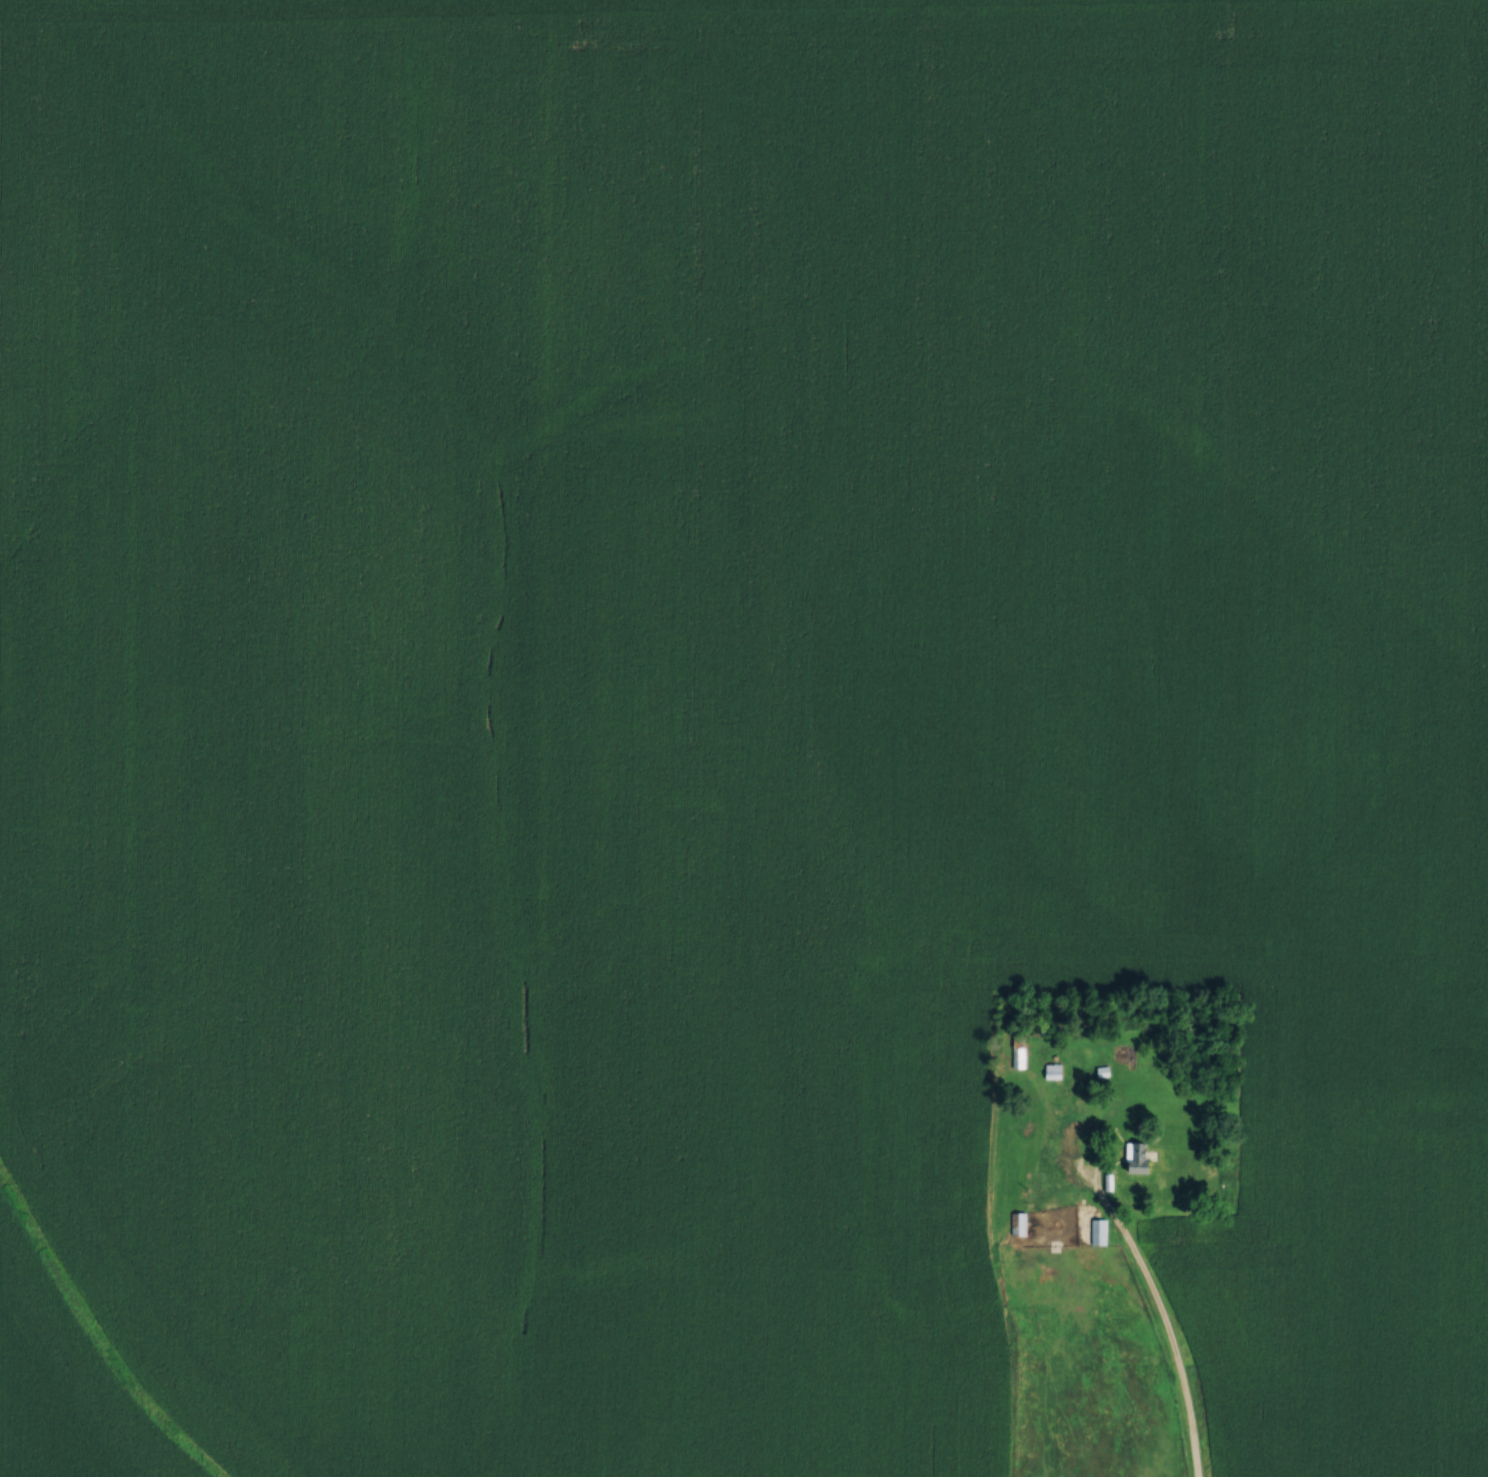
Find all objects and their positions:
building: (1054, 1067)
building: (1029, 1120)
building: (1139, 1152)
building: (1099, 1227)
road: (1161, 1324)

